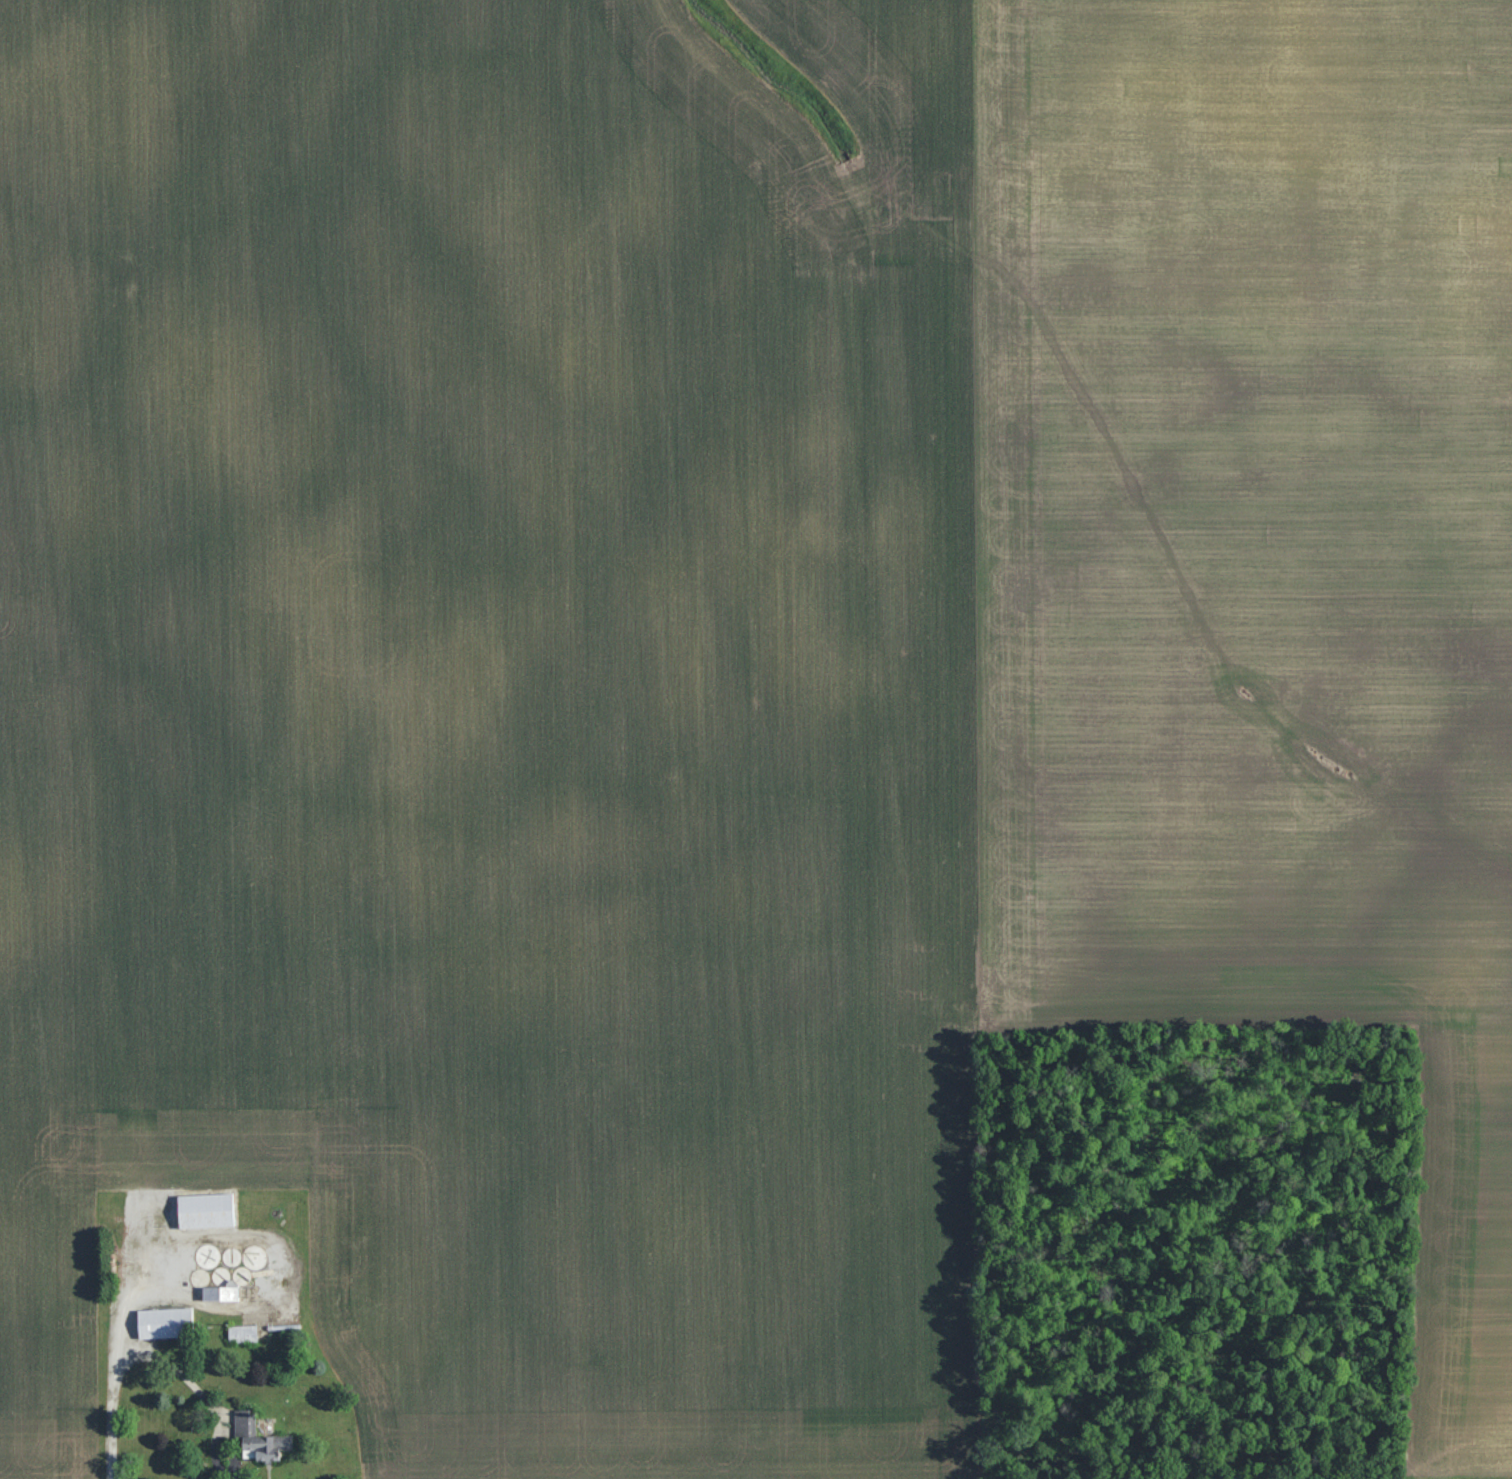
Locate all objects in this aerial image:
building: (203, 1210)
building: (249, 1257)
building: (218, 1294)
building: (164, 1323)
building: (241, 1334)
building: (257, 1439)

